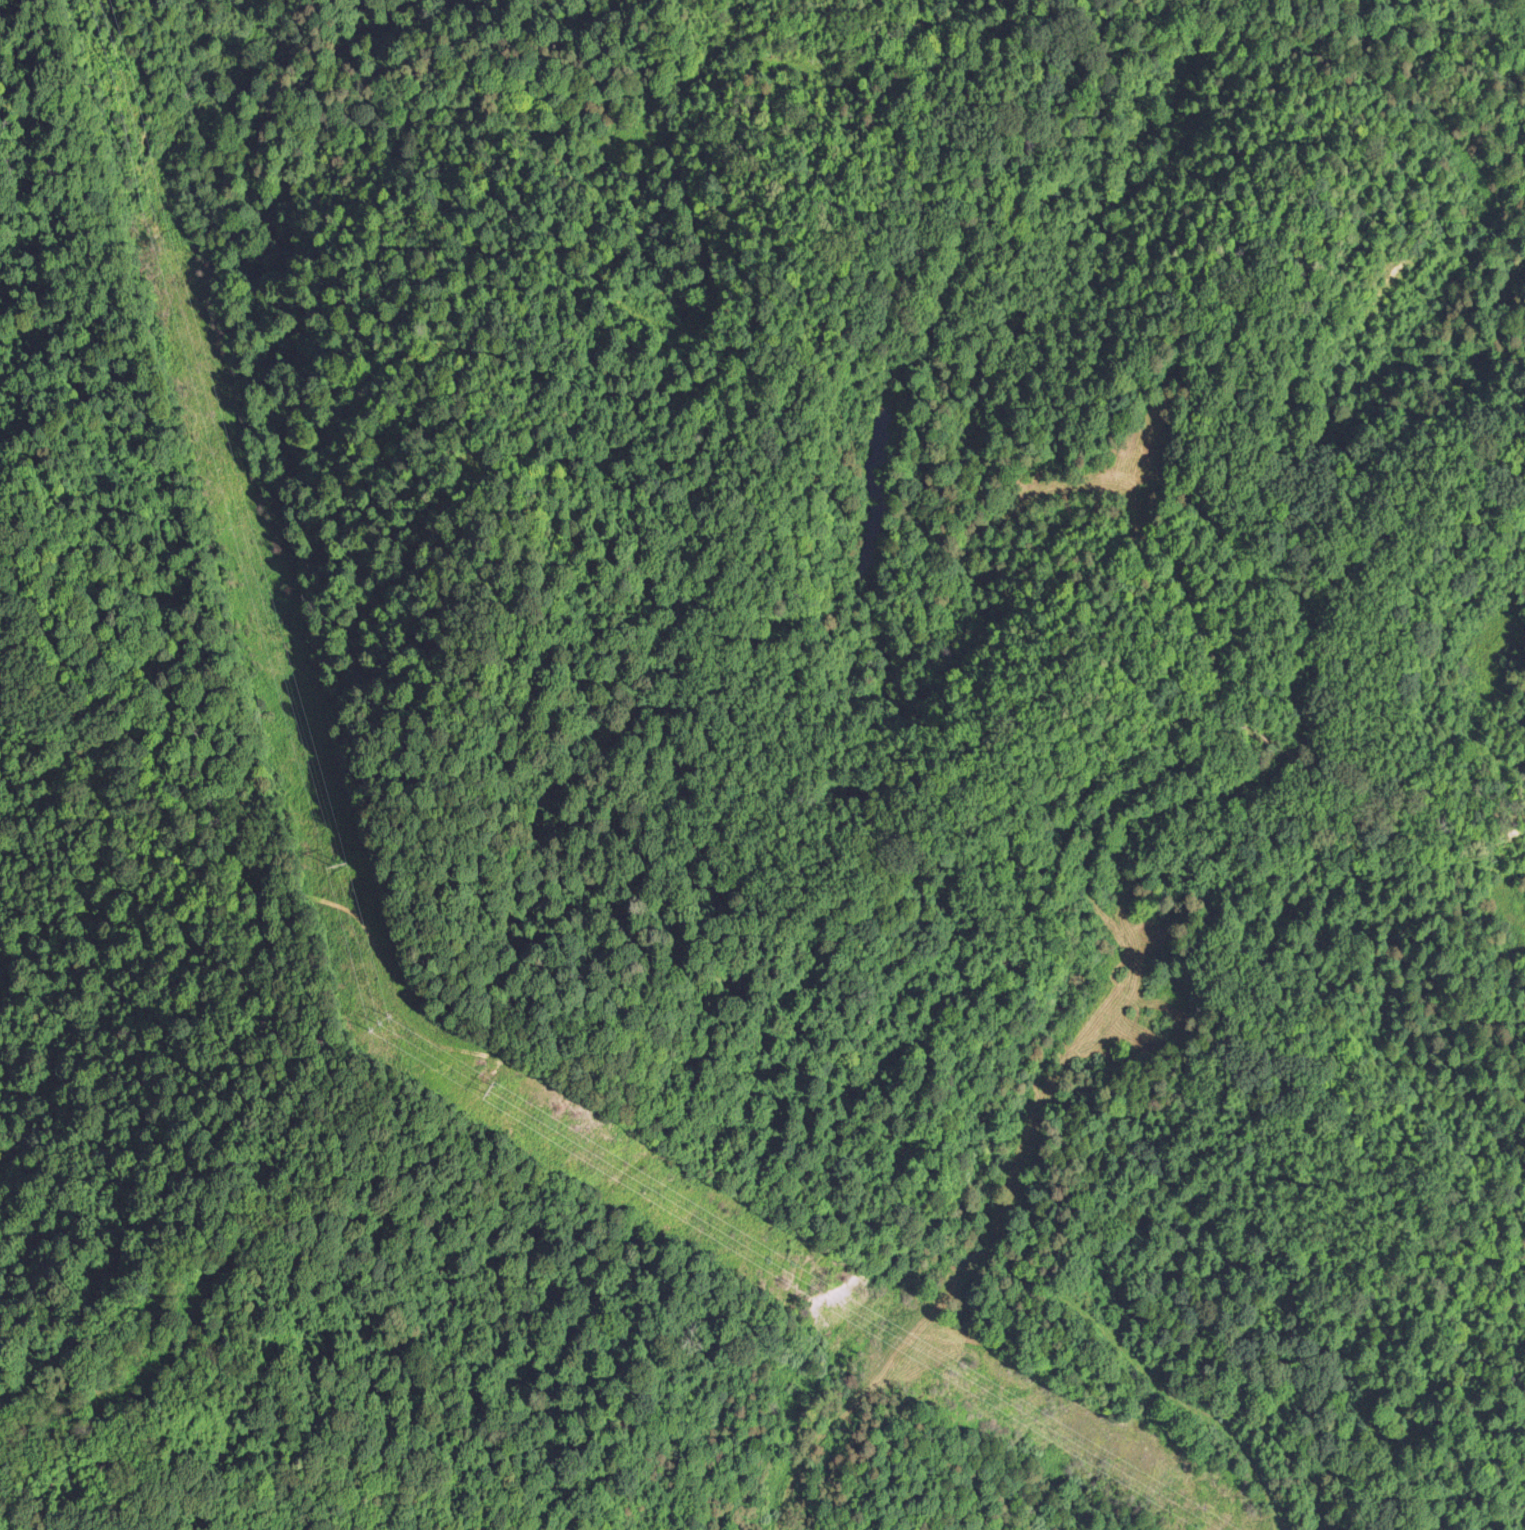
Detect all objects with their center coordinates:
power tower: (345, 861)
road: (224, 975)
power tower: (382, 1019)
power tower: (497, 1086)
road: (1067, 1308)
road: (5, 1525)

